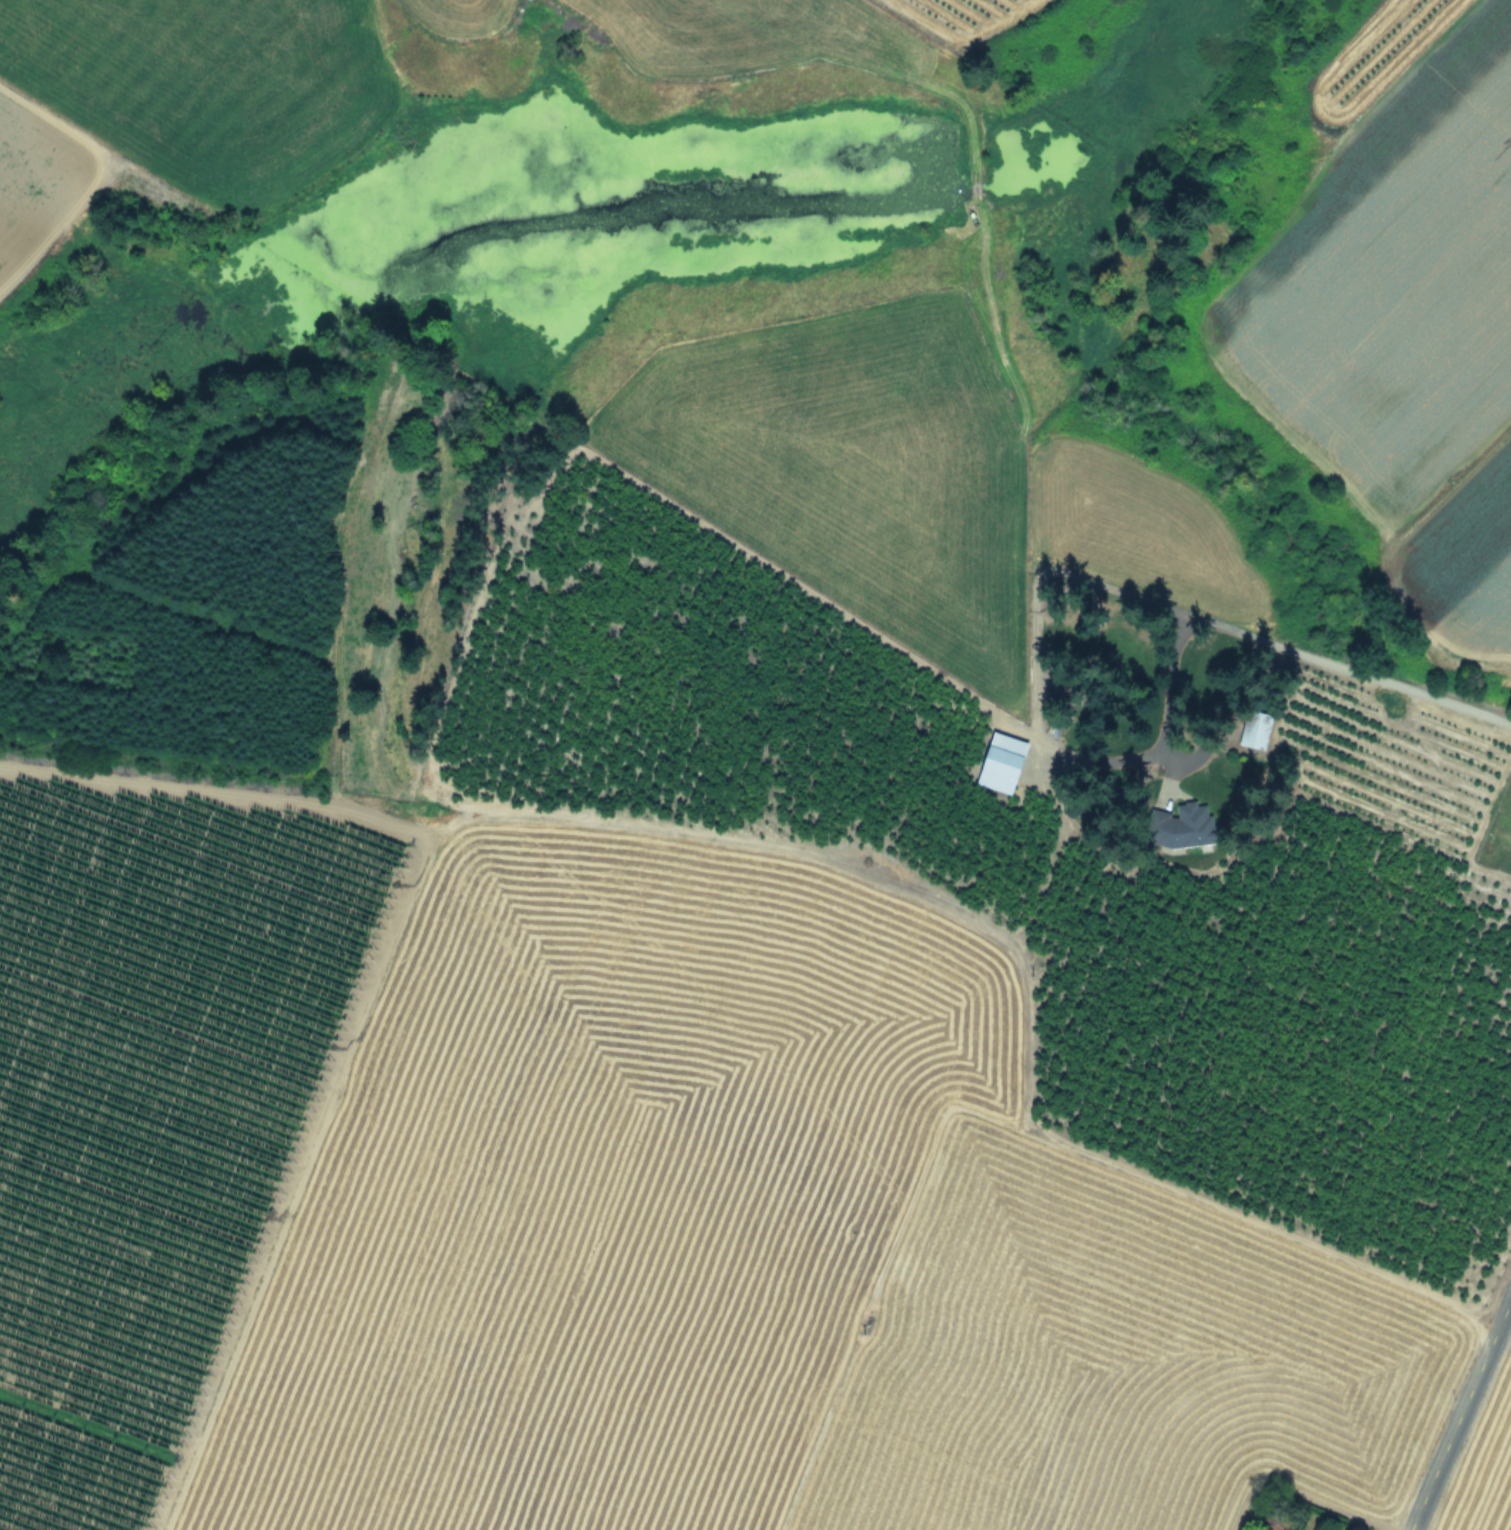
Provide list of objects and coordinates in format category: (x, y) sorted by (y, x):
crop: (37, 185)
crop: (1371, 394)
road: (1352, 671)
road: (1034, 711)
building: (1069, 722)
building: (1249, 738)
building: (1000, 763)
crop: (618, 1206)
road: (1459, 1411)

